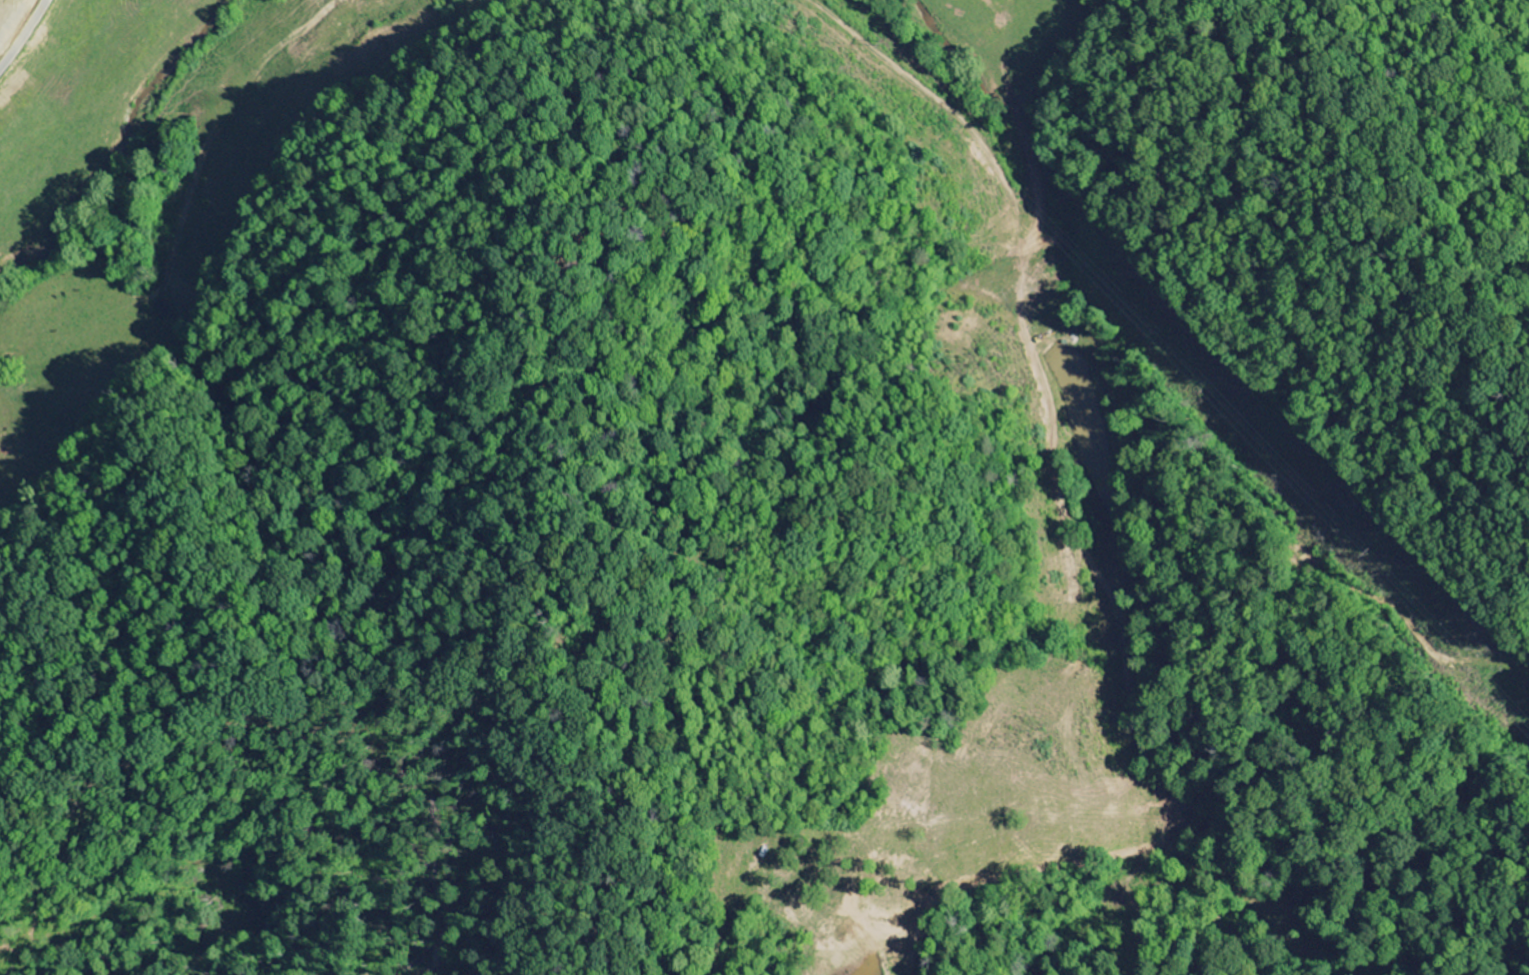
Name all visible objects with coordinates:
road: (24, 34)
power tower: (1369, 550)

